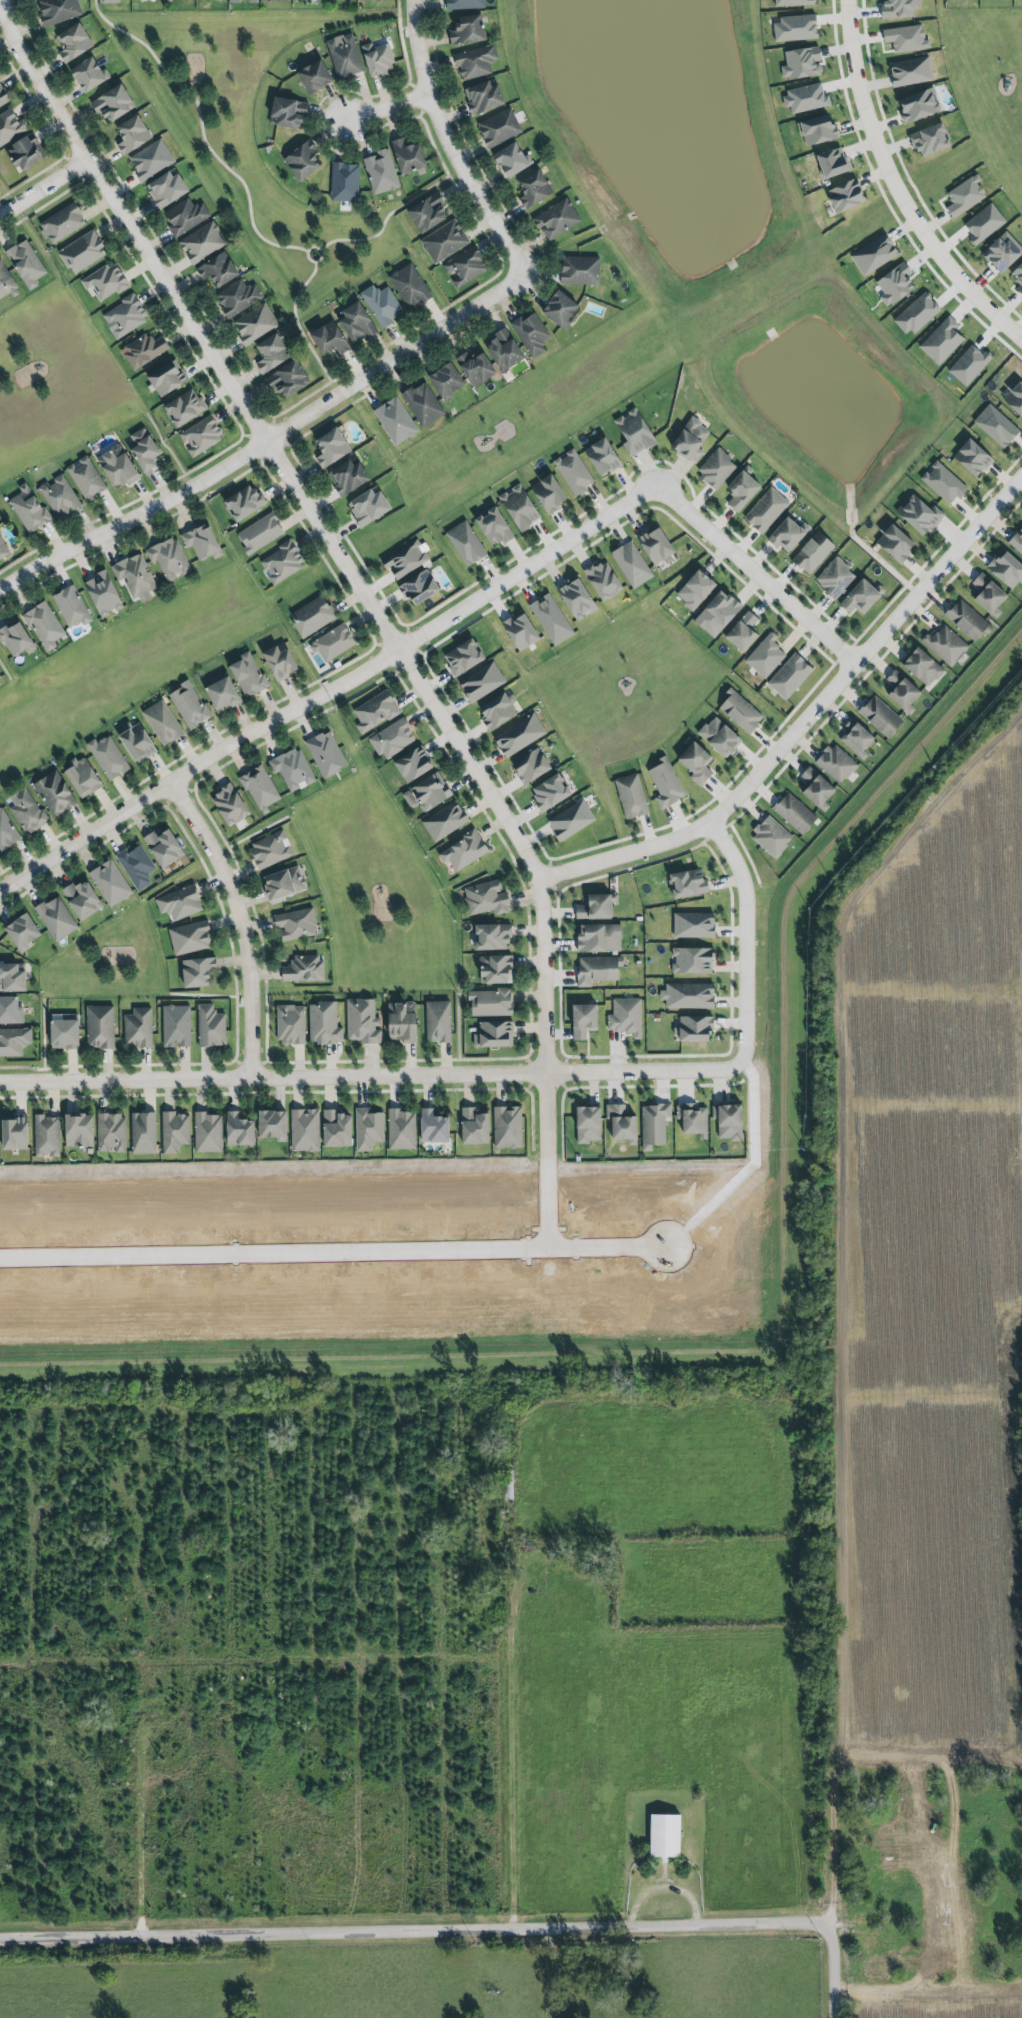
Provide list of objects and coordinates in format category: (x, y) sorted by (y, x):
building: (109, 1)
building: (235, 1)
building: (275, 1)
building: (372, 1)
building: (253, 2)
building: (791, 3)
building: (464, 5)
building: (898, 8)
building: (58, 12)
building: (794, 28)
building: (468, 33)
building: (905, 39)
building: (75, 44)
building: (345, 59)
building: (378, 60)
building: (474, 62)
building: (800, 62)
building: (909, 71)
building: (90, 78)
building: (315, 79)
building: (482, 96)
building: (4, 98)
building: (806, 98)
building: (111, 103)
building: (917, 104)
road: (388, 109)
building: (285, 112)
building: (11, 127)
building: (499, 129)
building: (816, 130)
building: (133, 135)
building: (928, 139)
road: (450, 142)
building: (22, 151)
building: (409, 156)
building: (508, 159)
building: (300, 160)
building: (152, 162)
building: (831, 162)
building: (382, 174)
building: (345, 183)
road: (41, 188)
road: (895, 188)
building: (534, 190)
building: (167, 191)
building: (844, 195)
building: (965, 195)
building: (425, 212)
building: (186, 218)
building: (557, 218)
building: (62, 221)
building: (982, 223)
building: (443, 241)
building: (203, 242)
building: (83, 250)
building: (1000, 252)
building: (872, 255)
building: (24, 263)
building: (464, 266)
building: (217, 270)
building: (578, 270)
building: (1018, 277)
building: (105, 280)
building: (5, 283)
building: (893, 284)
building: (410, 287)
building: (236, 298)
building: (380, 305)
building: (561, 306)
building: (916, 313)
building: (126, 315)
building: (354, 322)
building: (255, 325)
building: (530, 334)
building: (940, 341)
building: (330, 342)
building: (142, 350)
building: (501, 350)
building: (269, 352)
building: (968, 364)
building: (473, 367)
building: (165, 377)
building: (446, 378)
building: (288, 384)
building: (1015, 395)
building: (423, 402)
building: (182, 407)
building: (394, 420)
building: (996, 424)
building: (634, 432)
building: (201, 433)
building: (690, 438)
road: (269, 442)
building: (332, 443)
building: (144, 448)
building: (603, 455)
building: (973, 455)
building: (119, 464)
building: (572, 468)
building: (716, 468)
building: (349, 474)
building: (88, 476)
building: (944, 481)
building: (740, 488)
building: (548, 490)
building: (60, 495)
building: (245, 501)
building: (369, 504)
building: (520, 505)
building: (28, 509)
building: (766, 509)
building: (920, 513)
building: (495, 522)
building: (261, 531)
building: (786, 533)
building: (203, 540)
building: (465, 540)
building: (1017, 540)
building: (657, 542)
building: (892, 543)
building: (3, 549)
building: (812, 553)
building: (169, 557)
building: (406, 558)
building: (283, 561)
building: (632, 563)
building: (1007, 567)
building: (133, 576)
building: (835, 577)
building: (603, 578)
building: (419, 584)
building: (695, 587)
building: (104, 592)
building: (988, 593)
building: (861, 595)
building: (574, 598)
road: (360, 599)
building: (72, 605)
building: (715, 613)
building: (313, 615)
building: (552, 618)
building: (968, 619)
road: (445, 620)
building: (44, 623)
building: (743, 630)
building: (518, 631)
building: (17, 638)
building: (333, 642)
building: (947, 645)
building: (464, 655)
building: (764, 656)
building: (280, 659)
building: (923, 665)
building: (250, 673)
building: (0, 675)
building: (788, 676)
building: (482, 680)
building: (224, 692)
building: (903, 693)
building: (188, 705)
building: (498, 708)
building: (375, 709)
building: (738, 713)
building: (880, 716)
road: (805, 720)
building: (163, 721)
building: (518, 735)
building: (719, 735)
building: (392, 737)
building: (856, 737)
building: (137, 741)
building: (326, 753)
building: (107, 757)
building: (696, 759)
building: (413, 762)
building: (836, 763)
building: (528, 766)
building: (292, 769)
building: (84, 776)
building: (665, 783)
building: (816, 785)
building: (261, 788)
building: (551, 790)
building: (54, 791)
building: (425, 793)
building: (632, 795)
building: (231, 803)
building: (25, 810)
building: (795, 812)
building: (571, 819)
building: (445, 821)
building: (6, 830)
building: (772, 835)
building: (163, 845)
building: (271, 849)
building: (465, 849)
building: (137, 866)
building: (112, 883)
building: (686, 883)
building: (283, 884)
building: (82, 897)
building: (485, 899)
building: (179, 901)
building: (596, 905)
building: (57, 917)
road: (243, 922)
building: (296, 923)
building: (694, 924)
building: (19, 933)
building: (493, 934)
building: (189, 937)
building: (599, 937)
building: (692, 960)
building: (496, 967)
building: (302, 969)
building: (598, 969)
building: (194, 972)
building: (11, 978)
building: (689, 996)
building: (491, 1001)
building: (11, 1008)
building: (627, 1016)
building: (584, 1018)
building: (438, 1020)
building: (324, 1021)
building: (403, 1021)
building: (363, 1022)
building: (291, 1024)
building: (101, 1026)
building: (177, 1026)
building: (211, 1026)
building: (139, 1027)
building: (694, 1028)
building: (65, 1032)
building: (493, 1035)
building: (13, 1041)
road: (496, 1072)
building: (694, 1120)
building: (729, 1120)
building: (622, 1122)
building: (273, 1123)
building: (588, 1123)
building: (655, 1123)
building: (434, 1125)
building: (475, 1126)
building: (305, 1127)
building: (337, 1127)
building: (369, 1127)
building: (506, 1127)
building: (240, 1128)
building: (79, 1129)
building: (403, 1129)
building: (175, 1130)
building: (207, 1131)
building: (111, 1132)
building: (144, 1132)
building: (12, 1133)
building: (47, 1135)
road: (332, 1252)
road: (837, 1321)
road: (931, 1772)
building: (662, 1836)
road: (418, 1927)

